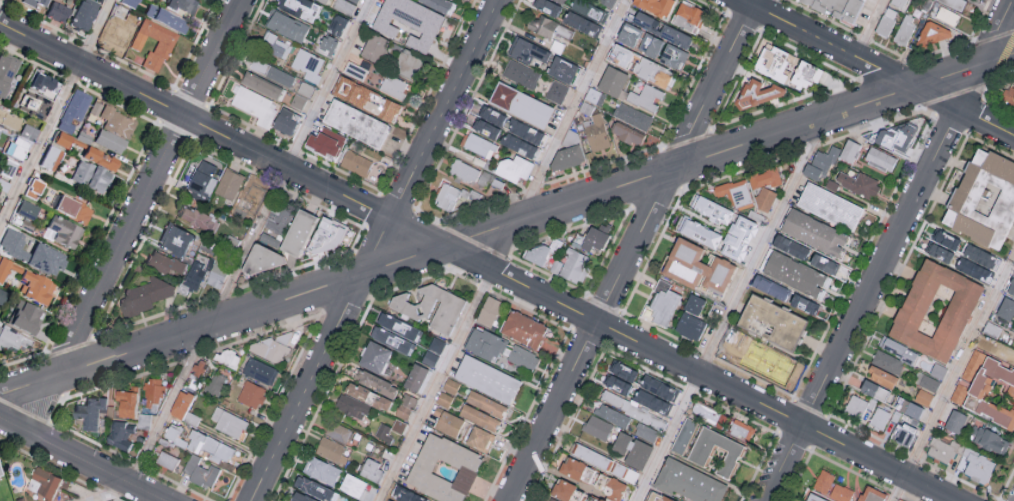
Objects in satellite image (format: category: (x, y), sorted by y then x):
building: (355, 0)
building: (323, 1)
building: (559, 1)
building: (34, 2)
building: (607, 2)
building: (954, 3)
building: (181, 5)
building: (440, 5)
building: (580, 5)
building: (547, 6)
building: (655, 6)
building: (299, 7)
building: (835, 7)
building: (122, 8)
building: (54, 11)
building: (81, 14)
building: (947, 15)
building: (602, 16)
building: (688, 16)
building: (409, 21)
building: (581, 23)
building: (337, 24)
building: (886, 24)
building: (287, 25)
building: (541, 25)
building: (660, 28)
road: (867, 28)
building: (905, 32)
building: (114, 34)
building: (628, 34)
building: (934, 35)
building: (162, 44)
building: (649, 44)
building: (276, 45)
building: (327, 45)
building: (374, 47)
building: (527, 51)
building: (619, 55)
building: (673, 56)
building: (407, 63)
building: (776, 63)
building: (308, 64)
road: (877, 68)
building: (562, 69)
building: (6, 70)
building: (652, 72)
building: (521, 73)
building: (807, 76)
building: (613, 82)
building: (260, 84)
building: (42, 85)
building: (392, 86)
building: (305, 88)
building: (556, 91)
building: (757, 95)
building: (1010, 97)
building: (366, 99)
building: (644, 99)
building: (298, 101)
building: (254, 104)
building: (520, 104)
building: (36, 107)
building: (95, 109)
building: (72, 111)
road: (57, 117)
building: (633, 117)
building: (3, 118)
building: (286, 120)
building: (117, 123)
building: (355, 123)
building: (486, 128)
building: (515, 132)
building: (597, 135)
building: (628, 135)
building: (896, 137)
building: (58, 140)
building: (23, 141)
building: (108, 141)
building: (325, 143)
building: (480, 145)
building: (850, 152)
building: (569, 153)
building: (48, 158)
building: (98, 159)
building: (881, 160)
building: (355, 162)
building: (821, 164)
building: (7, 168)
building: (515, 170)
building: (465, 172)
building: (203, 177)
building: (90, 178)
building: (766, 180)
building: (229, 183)
building: (859, 183)
building: (3, 186)
building: (31, 189)
building: (736, 194)
building: (251, 198)
building: (453, 198)
building: (984, 201)
building: (831, 208)
building: (27, 210)
building: (71, 210)
building: (723, 214)
building: (197, 217)
road: (140, 218)
road: (506, 225)
building: (704, 229)
building: (61, 232)
building: (815, 233)
building: (300, 234)
building: (329, 235)
building: (347, 236)
building: (597, 238)
building: (174, 239)
building: (12, 244)
building: (789, 246)
building: (942, 246)
building: (741, 249)
road: (375, 250)
road: (501, 250)
road: (634, 251)
road: (890, 252)
building: (538, 255)
building: (978, 255)
building: (42, 260)
building: (262, 261)
road: (475, 262)
building: (165, 263)
building: (823, 263)
road: (239, 264)
building: (7, 267)
building: (575, 268)
building: (697, 268)
building: (796, 274)
building: (194, 276)
building: (218, 276)
building: (769, 287)
building: (33, 288)
building: (1011, 288)
building: (0, 294)
building: (145, 296)
building: (664, 304)
building: (694, 304)
building: (804, 304)
building: (1006, 308)
building: (432, 309)
road: (728, 310)
building: (488, 311)
building: (937, 311)
building: (25, 318)
building: (772, 322)
building: (690, 326)
building: (523, 328)
building: (388, 331)
building: (11, 343)
building: (484, 343)
building: (276, 347)
building: (899, 350)
building: (433, 351)
building: (376, 357)
building: (523, 357)
building: (228, 359)
building: (886, 361)
building: (938, 370)
building: (260, 372)
road: (952, 374)
building: (967, 375)
building: (415, 377)
building: (620, 377)
building: (881, 377)
building: (486, 378)
building: (375, 382)
building: (929, 382)
building: (215, 383)
building: (450, 385)
building: (657, 388)
building: (873, 390)
building: (992, 392)
building: (154, 393)
building: (251, 394)
building: (923, 396)
building: (444, 399)
building: (615, 399)
building: (360, 400)
building: (651, 401)
building: (128, 403)
building: (180, 403)
building: (486, 403)
building: (405, 406)
building: (855, 406)
building: (911, 408)
building: (704, 412)
building: (91, 413)
building: (612, 415)
building: (191, 417)
building: (479, 417)
building: (879, 418)
building: (143, 420)
building: (228, 421)
building: (955, 421)
building: (448, 423)
building: (398, 426)
building: (597, 426)
building: (740, 429)
building: (338, 432)
building: (645, 432)
building: (120, 434)
building: (903, 434)
building: (683, 435)
building: (479, 438)
building: (989, 440)
building: (200, 443)
building: (329, 448)
building: (941, 449)
building: (631, 450)
building: (698, 454)
building: (591, 457)
road: (80, 460)
building: (167, 460)
building: (976, 465)
building: (443, 468)
building: (321, 470)
building: (371, 470)
building: (201, 471)
building: (624, 472)
building: (1, 475)
building: (592, 478)
building: (688, 482)
building: (352, 485)
building: (831, 487)
building: (43, 488)
building: (309, 490)
building: (404, 494)
building: (871, 494)
building: (656, 497)
building: (814, 497)
building: (593, 498)
building: (350, 500)
building: (900, 500)

